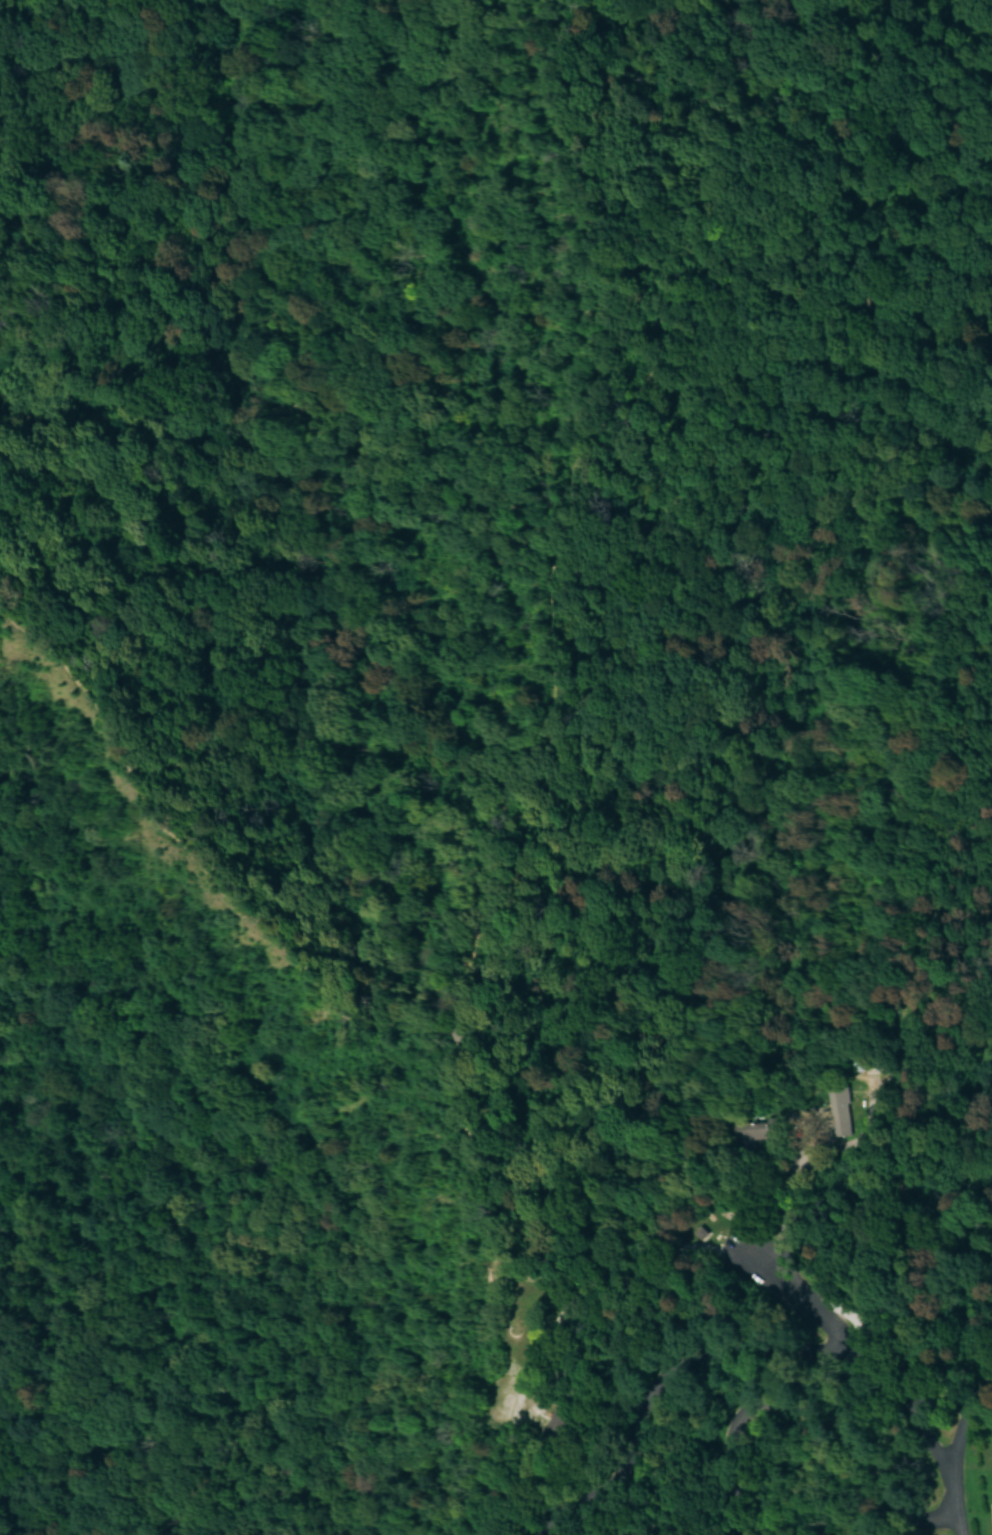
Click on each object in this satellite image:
road: (389, 1013)
building: (870, 1058)
road: (696, 1364)
road: (522, 1394)
road: (957, 1396)
road: (811, 1411)
road: (958, 1441)
road: (938, 1464)

